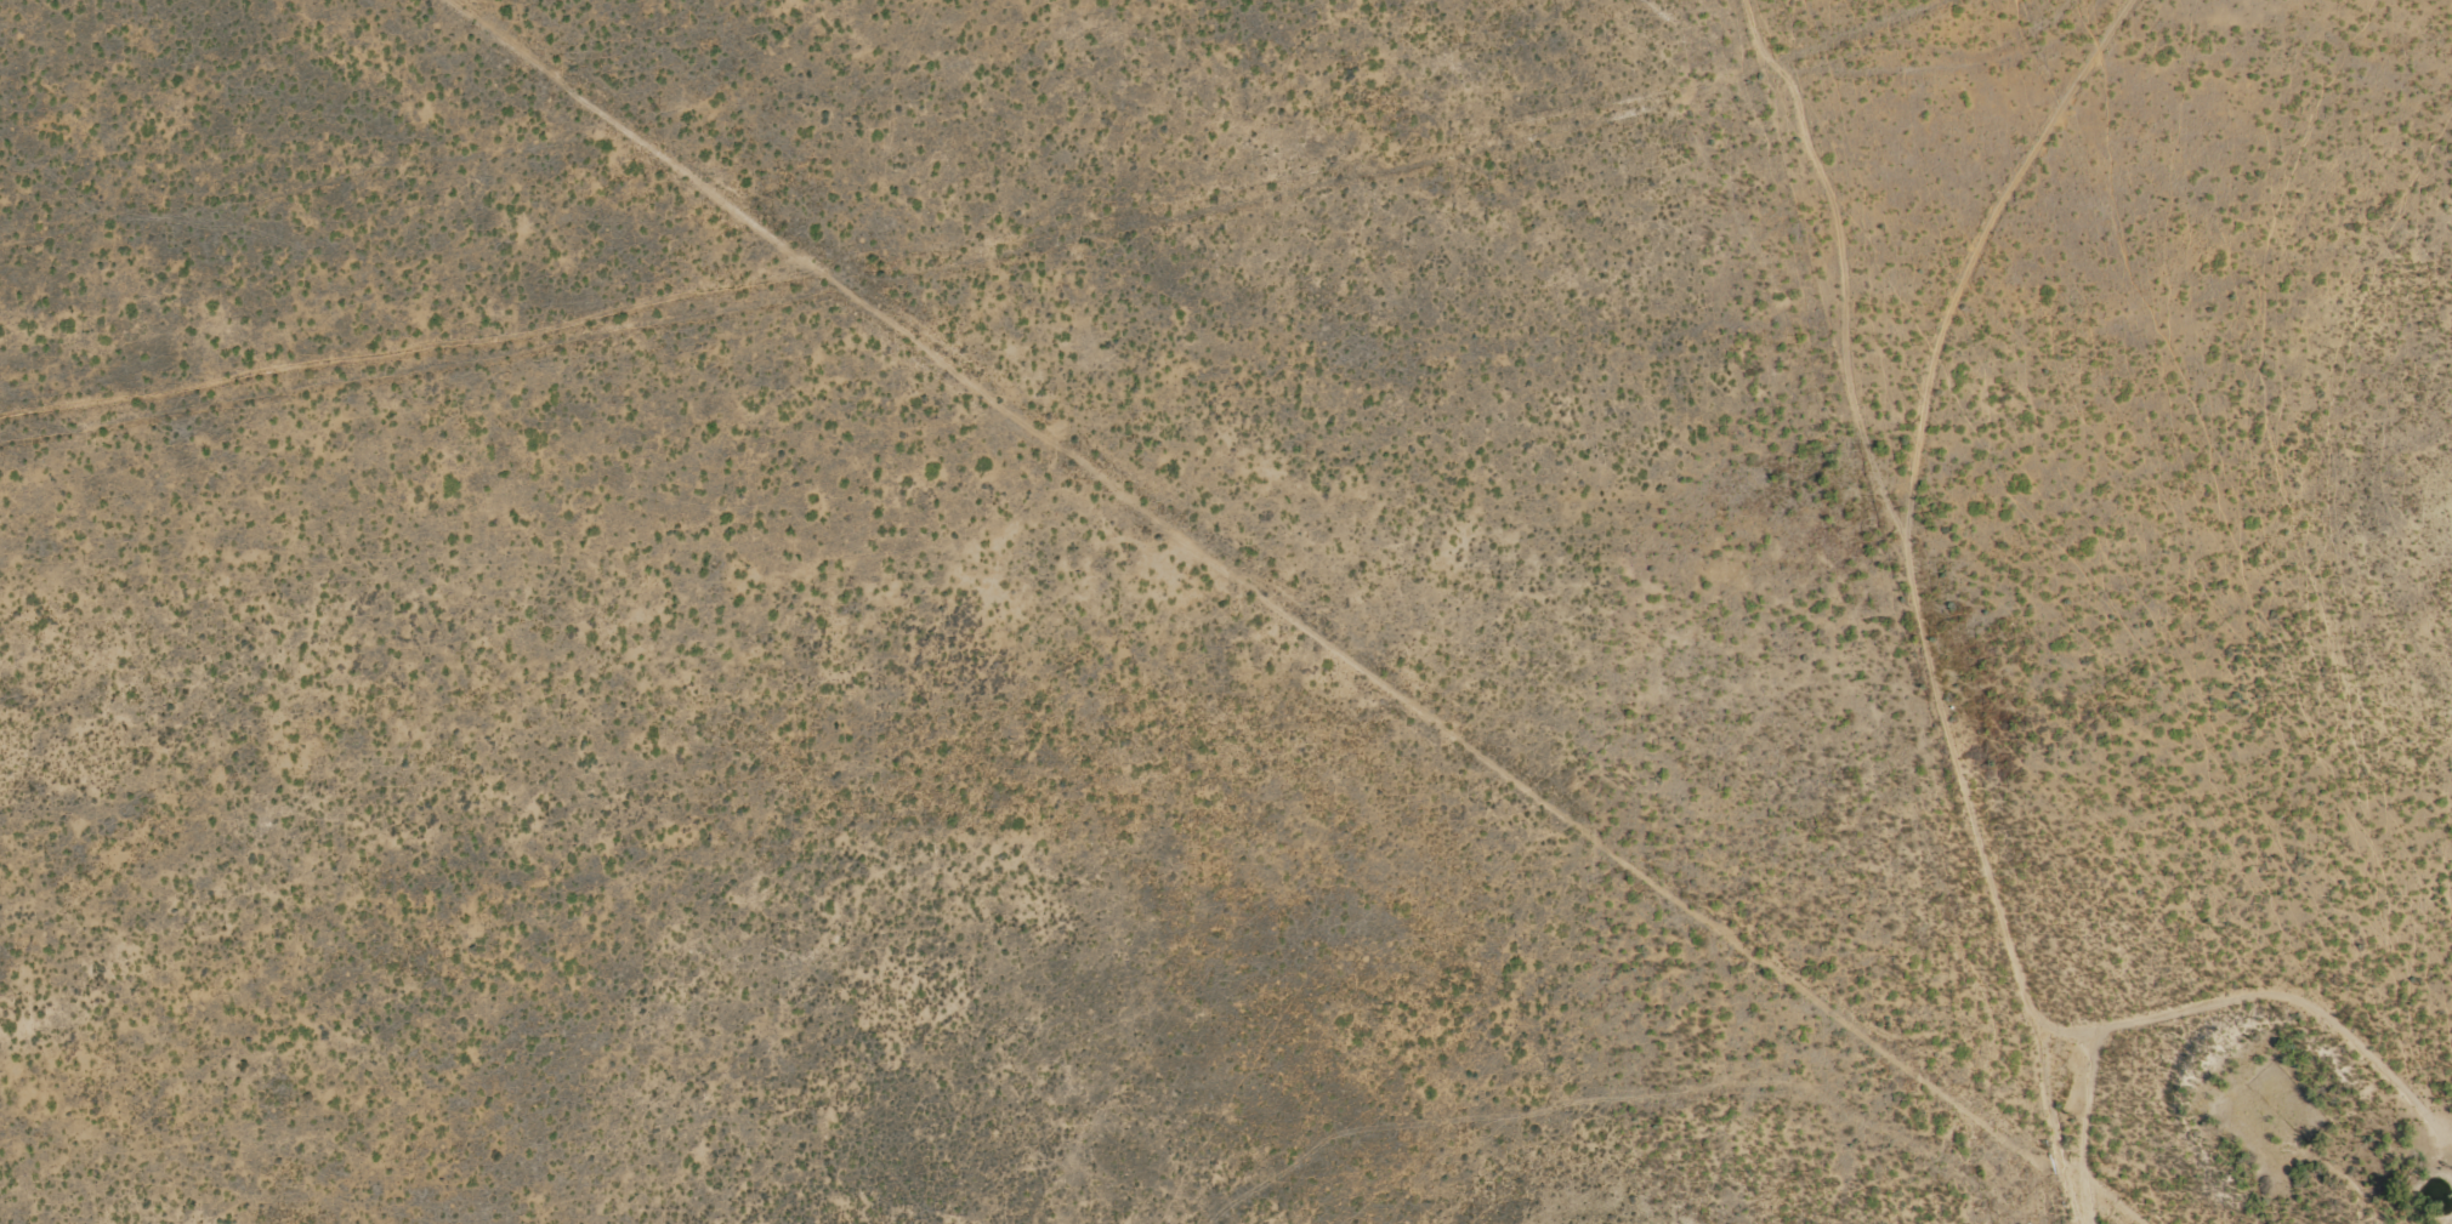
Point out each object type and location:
road: (878, 200)
road: (1953, 594)

